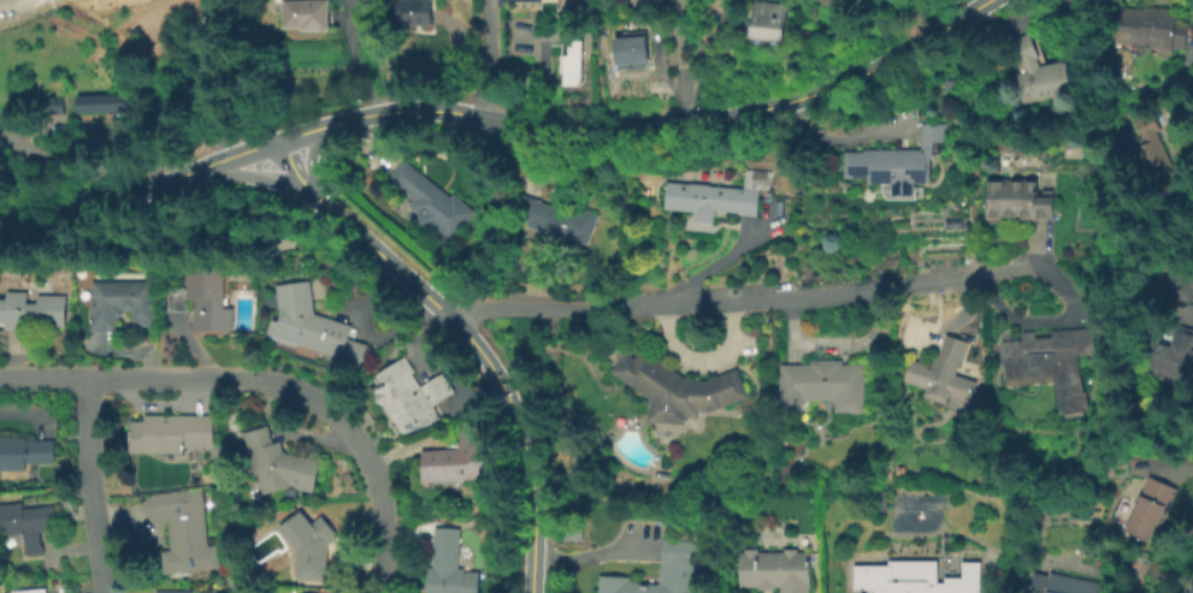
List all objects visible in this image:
building: (411, 11)
building: (305, 13)
road: (957, 18)
building: (769, 20)
building: (519, 23)
building: (1147, 30)
building: (567, 47)
building: (631, 48)
road: (484, 59)
road: (354, 60)
road: (679, 61)
building: (1038, 71)
road: (220, 78)
building: (107, 99)
building: (51, 102)
road: (400, 108)
road: (479, 117)
road: (711, 118)
building: (1142, 123)
road: (299, 130)
road: (306, 159)
building: (899, 160)
road: (287, 161)
road: (64, 170)
road: (246, 172)
road: (171, 176)
road: (308, 191)
building: (717, 195)
building: (431, 200)
building: (1017, 201)
road: (33, 217)
building: (556, 218)
building: (1179, 281)
building: (203, 297)
road: (743, 298)
building: (122, 300)
building: (31, 308)
building: (307, 319)
building: (1173, 357)
building: (1051, 360)
road: (486, 364)
building: (943, 372)
road: (188, 378)
building: (828, 384)
building: (677, 386)
building: (409, 396)
building: (170, 434)
building: (24, 450)
building: (457, 456)
building: (279, 462)
road: (1171, 465)
road: (85, 485)
building: (1150, 510)
road: (377, 514)
building: (26, 522)
building: (182, 528)
building: (308, 542)
road: (593, 550)
building: (449, 564)
building: (775, 568)
building: (660, 571)
building: (914, 580)
building: (1069, 583)
building: (28, 589)
building: (171, 591)
building: (1192, 592)

